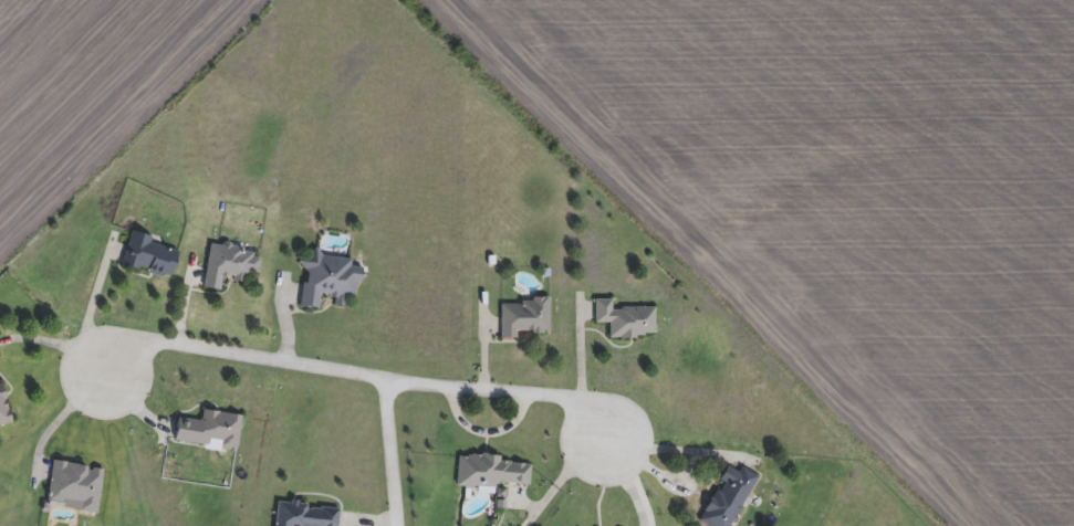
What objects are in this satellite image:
building: (150, 254)
building: (230, 263)
building: (327, 278)
road: (91, 312)
building: (524, 316)
building: (625, 318)
road: (52, 343)
road: (582, 357)
road: (362, 380)
building: (3, 408)
road: (59, 418)
building: (210, 429)
road: (484, 432)
road: (680, 451)
road: (388, 455)
road: (574, 466)
building: (493, 471)
road: (637, 481)
building: (76, 484)
building: (728, 496)
building: (305, 514)

